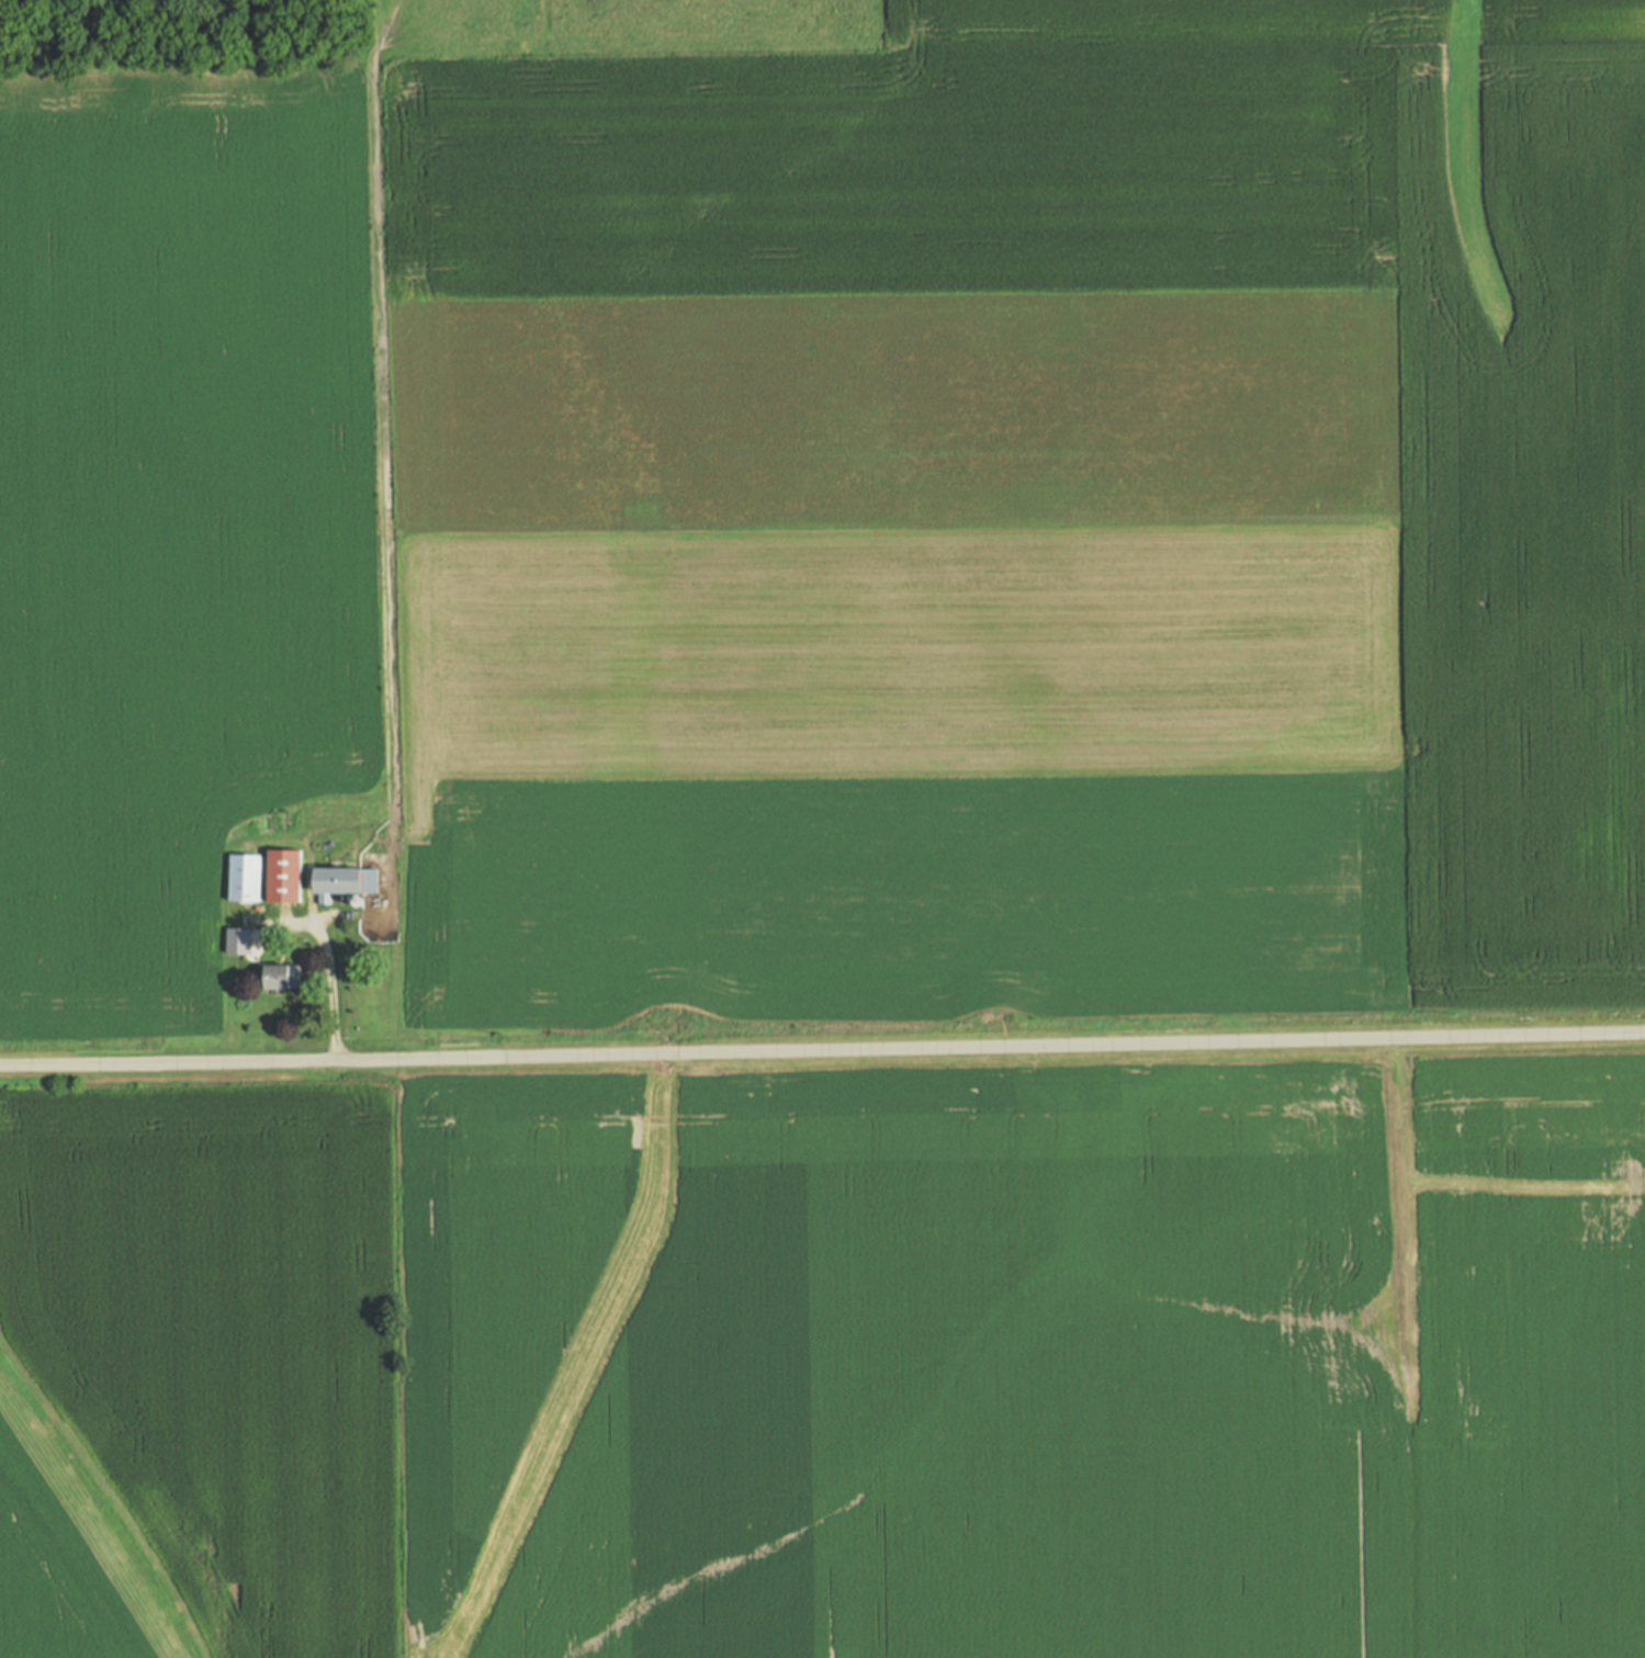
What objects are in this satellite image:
building: (286, 876)
building: (245, 878)
building: (342, 881)
road: (298, 922)
building: (260, 955)
building: (281, 977)
road: (329, 991)
road: (822, 1048)

